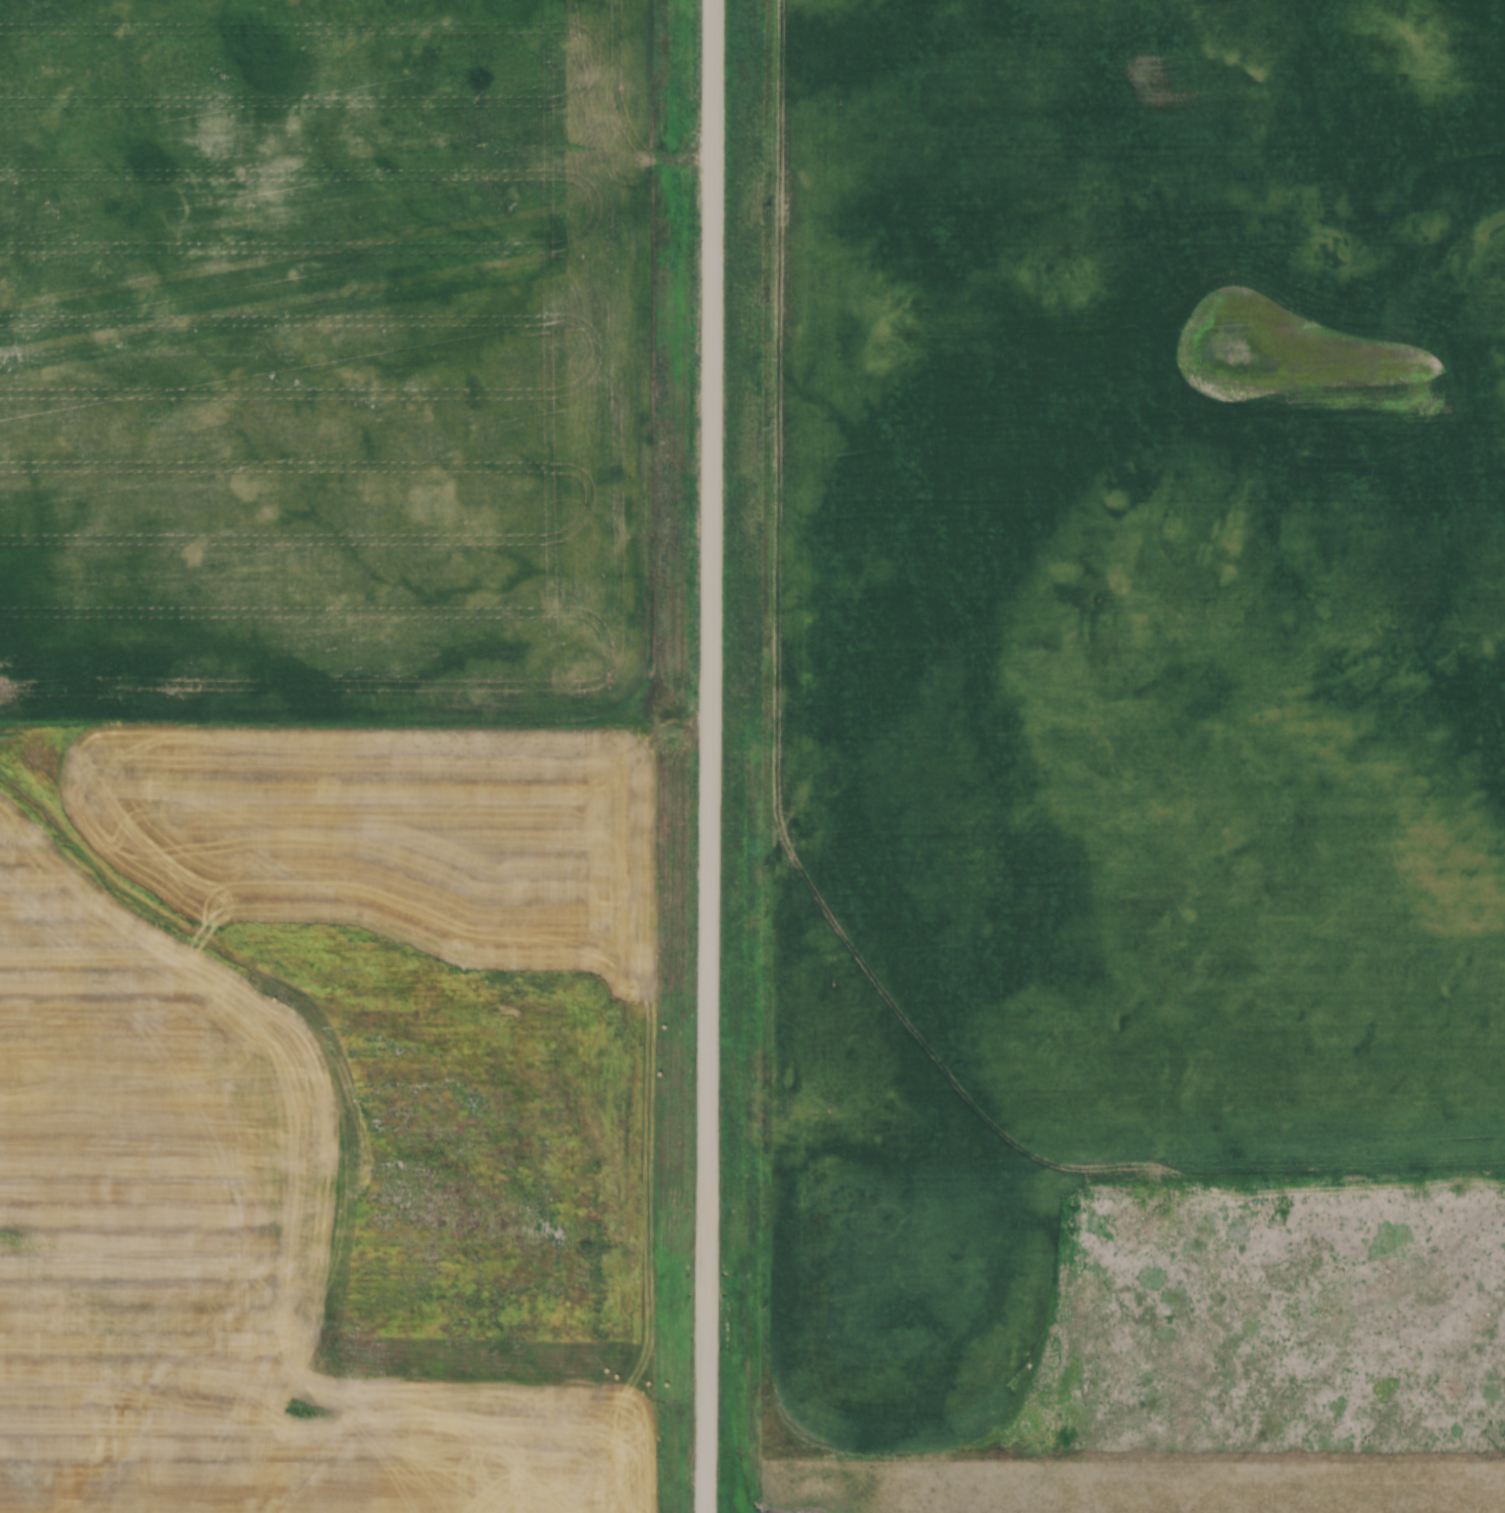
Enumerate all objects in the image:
road: (713, 756)

